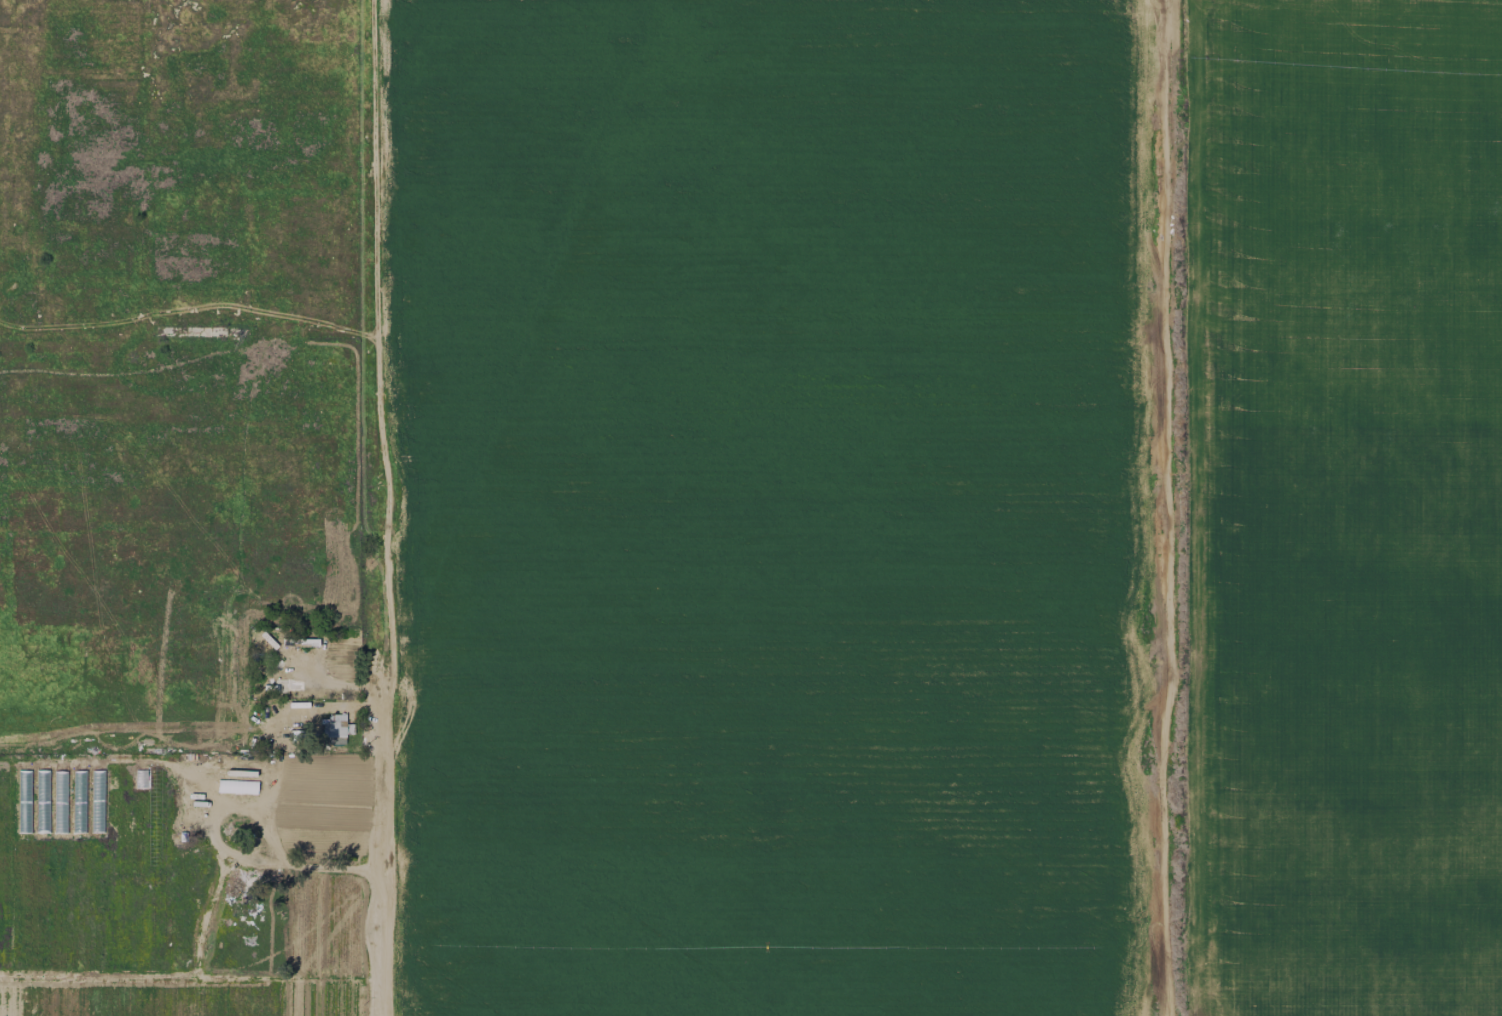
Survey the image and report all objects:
road: (397, 508)
road: (1162, 508)
building: (334, 729)
road: (235, 861)

